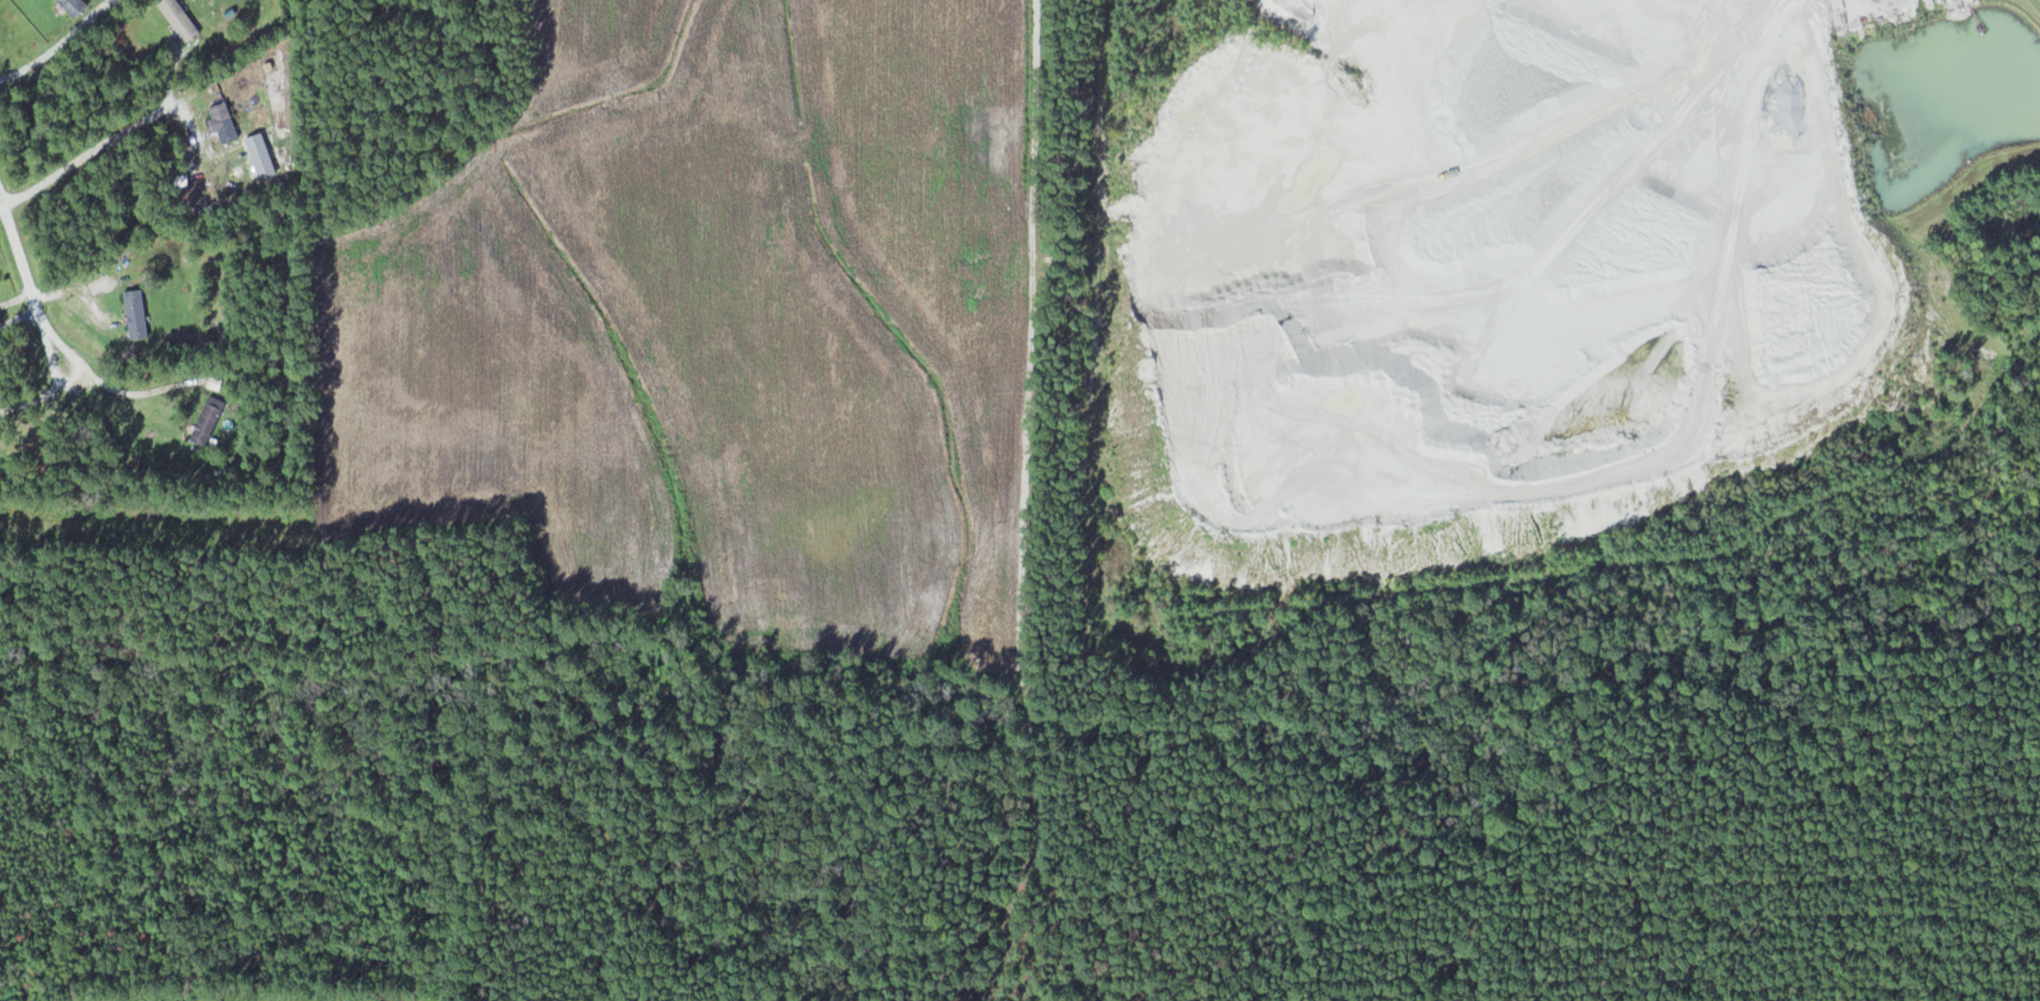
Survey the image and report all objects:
building: (120, 1)
building: (76, 6)
building: (182, 19)
building: (223, 122)
quarry: (1519, 261)
road: (30, 291)
building: (138, 314)
crop: (720, 342)
building: (210, 420)

